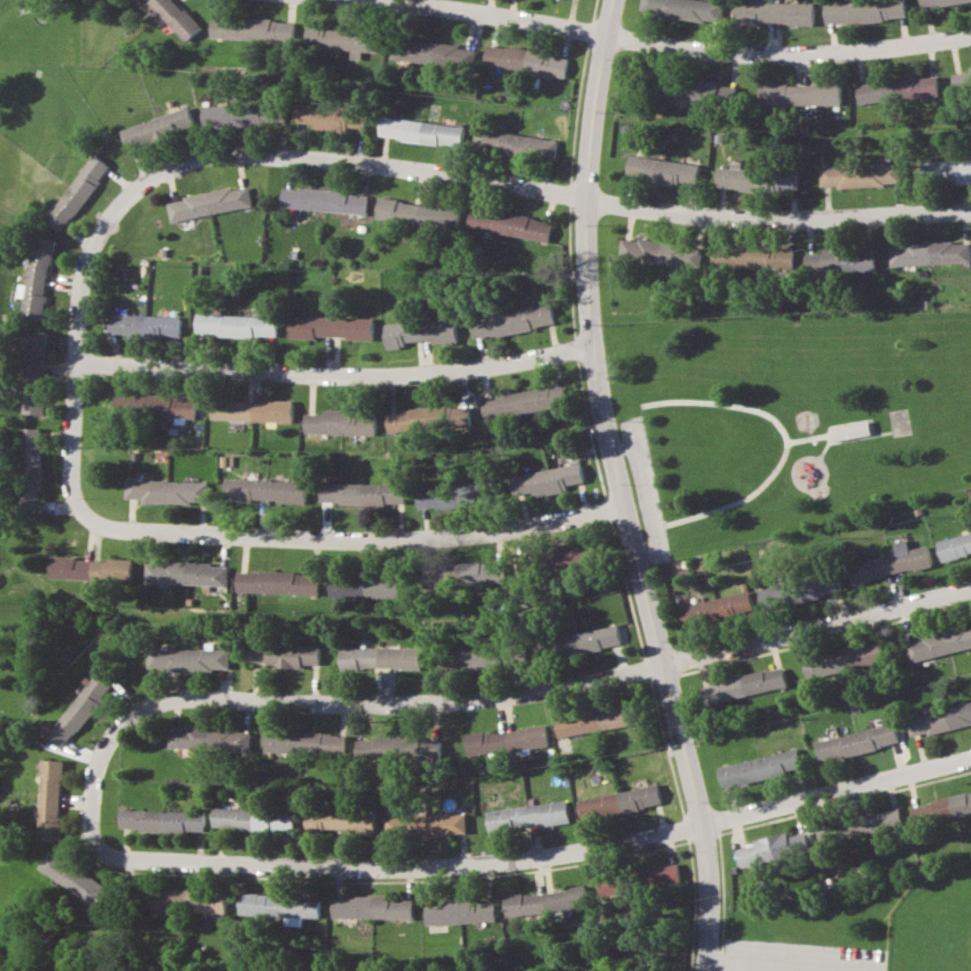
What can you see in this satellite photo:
building: (938, 2)
building: (684, 8)
building: (863, 10)
building: (772, 12)
building: (177, 17)
building: (253, 29)
building: (344, 39)
road: (660, 41)
building: (433, 53)
building: (525, 60)
building: (970, 66)
building: (961, 81)
building: (897, 89)
building: (799, 94)
building: (240, 115)
building: (330, 117)
building: (158, 128)
building: (422, 131)
building: (514, 143)
building: (662, 170)
building: (946, 171)
building: (860, 175)
road: (457, 176)
building: (739, 177)
building: (78, 192)
building: (325, 200)
building: (211, 203)
building: (419, 213)
building: (509, 224)
building: (660, 252)
building: (928, 253)
building: (754, 258)
building: (841, 261)
building: (37, 278)
building: (512, 321)
building: (147, 325)
building: (238, 326)
building: (333, 327)
building: (421, 332)
building: (35, 373)
road: (331, 380)
building: (524, 402)
building: (155, 404)
building: (253, 410)
park: (783, 417)
building: (429, 418)
building: (342, 421)
building: (852, 429)
road: (816, 436)
road: (858, 436)
road: (783, 438)
building: (31, 468)
building: (547, 480)
road: (612, 488)
road: (641, 489)
building: (266, 490)
building: (166, 491)
building: (364, 493)
building: (459, 496)
road: (627, 516)
road: (656, 526)
road: (271, 542)
building: (954, 544)
building: (565, 560)
building: (890, 563)
building: (91, 568)
building: (186, 573)
building: (465, 573)
building: (278, 582)
building: (365, 587)
building: (800, 590)
building: (716, 608)
building: (587, 640)
building: (938, 644)
building: (283, 654)
building: (188, 658)
building: (380, 658)
building: (481, 658)
building: (843, 660)
building: (744, 685)
road: (473, 701)
building: (81, 708)
building: (939, 719)
building: (596, 720)
building: (210, 738)
building: (507, 740)
building: (305, 742)
building: (856, 742)
building: (398, 748)
building: (759, 767)
building: (50, 800)
building: (619, 802)
building: (942, 809)
building: (529, 815)
building: (252, 818)
building: (162, 820)
building: (340, 820)
building: (442, 825)
building: (860, 825)
building: (396, 826)
road: (539, 861)
building: (841, 871)
building: (660, 874)
building: (73, 877)
building: (614, 884)
building: (188, 900)
building: (546, 901)
building: (277, 906)
building: (372, 907)
building: (461, 911)
park: (935, 923)
park: (857, 928)

